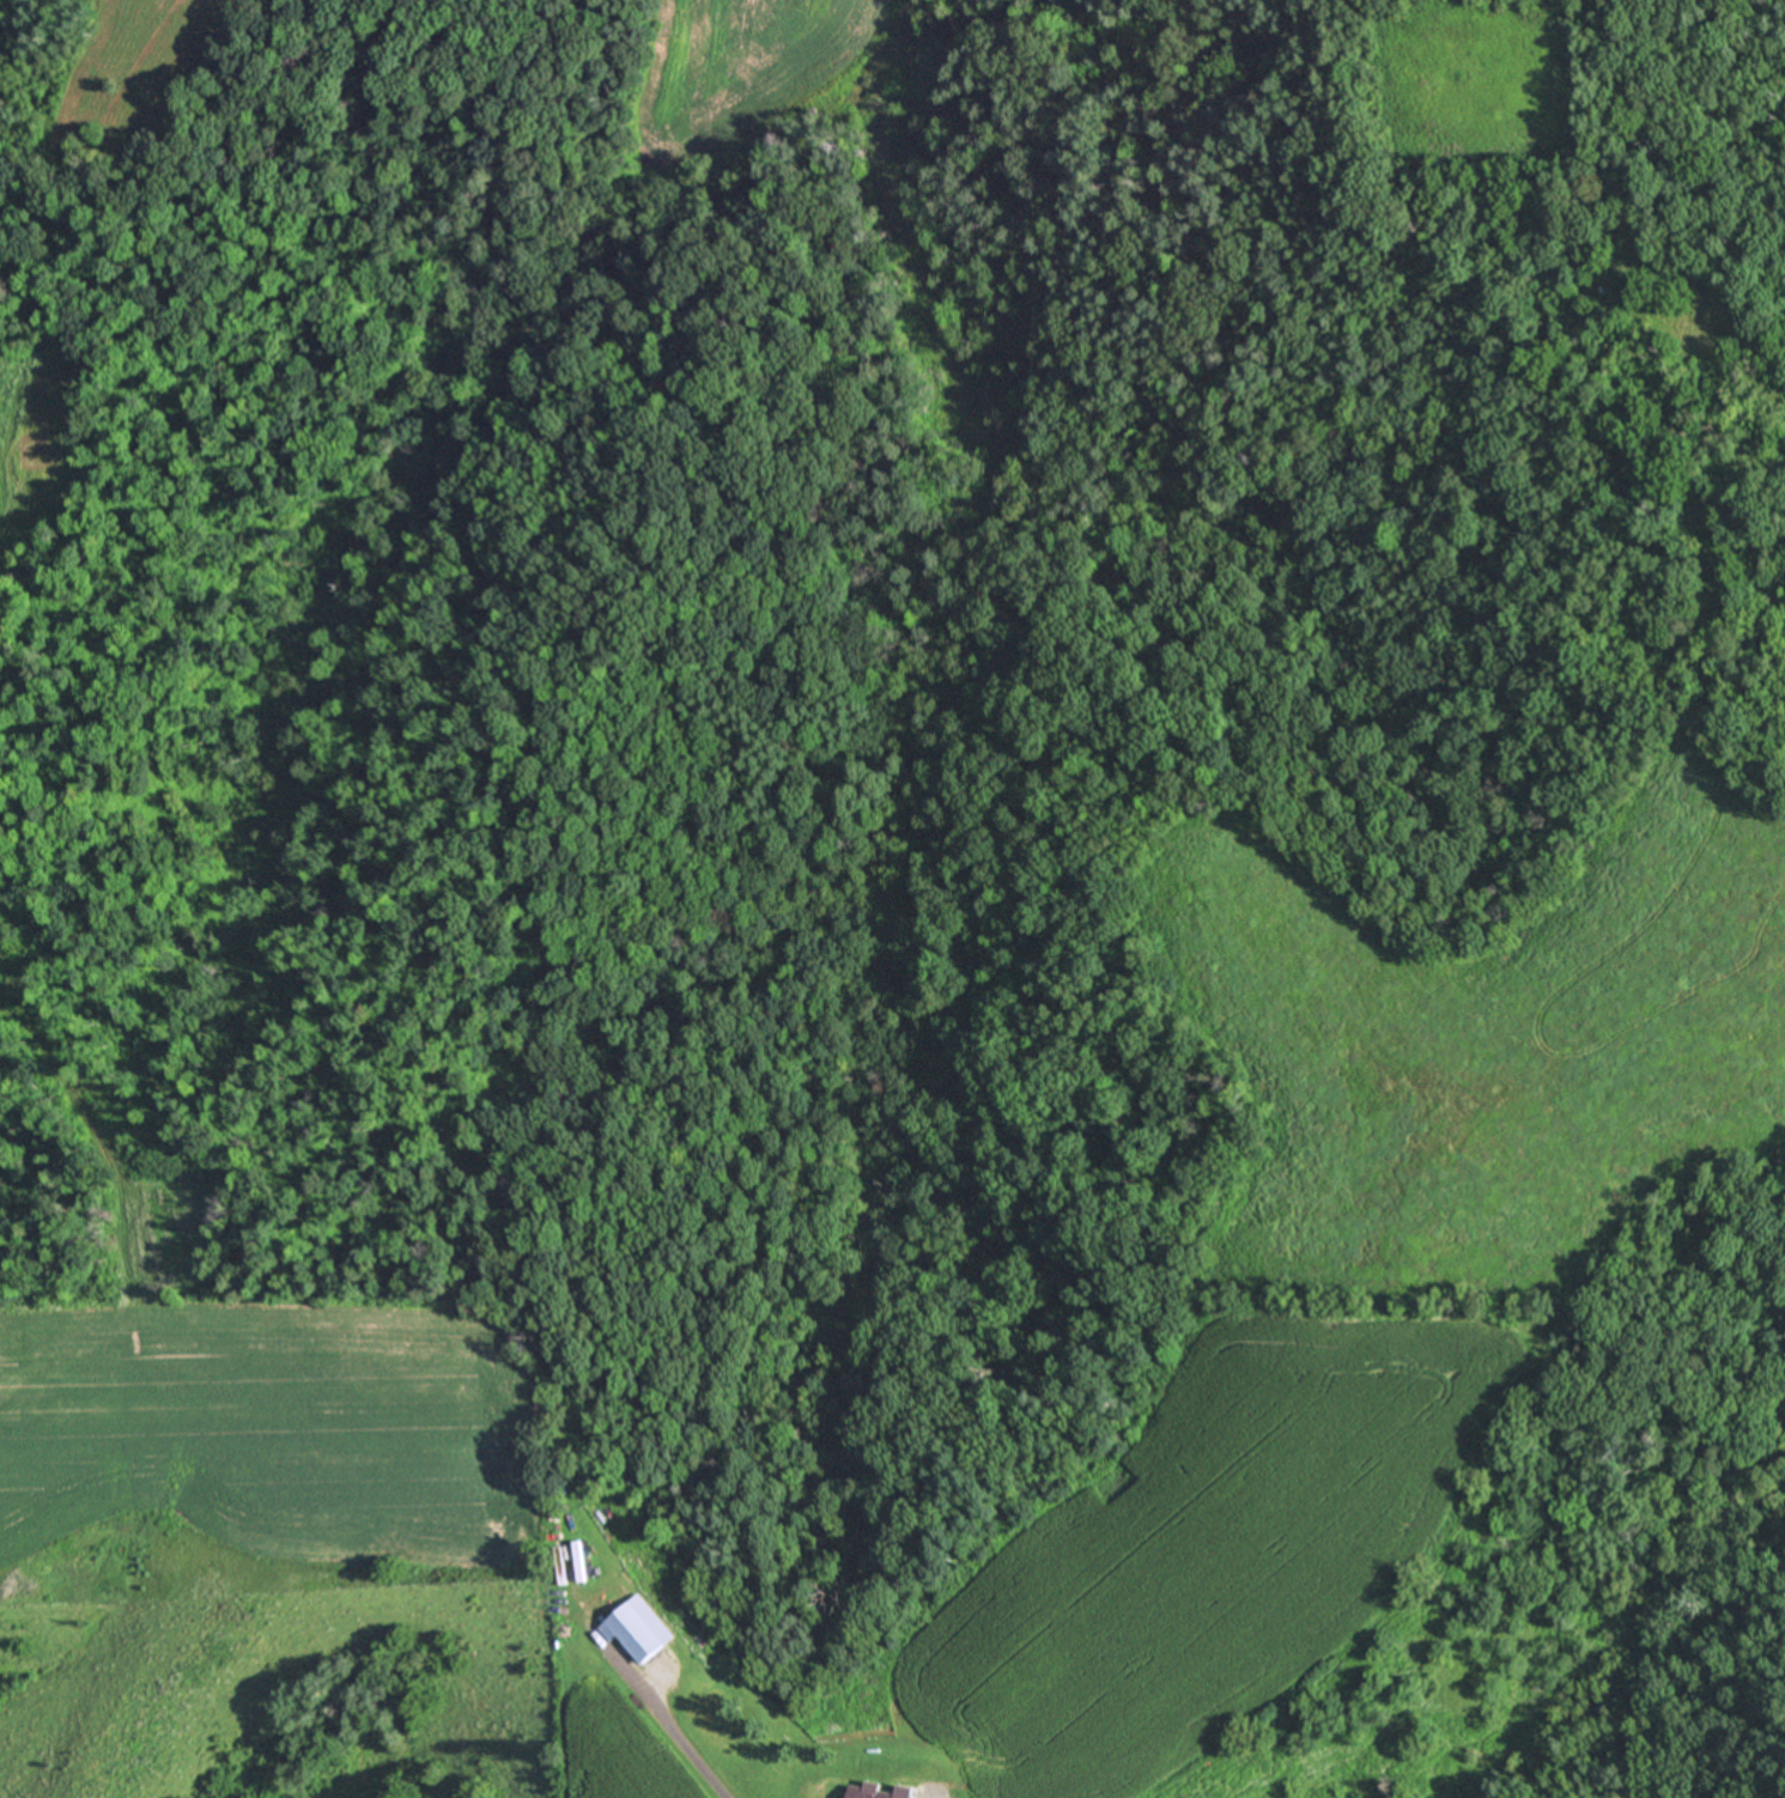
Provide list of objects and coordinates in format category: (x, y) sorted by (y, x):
road: (1777, 560)
building: (637, 1629)
road: (682, 1747)
building: (876, 1793)

